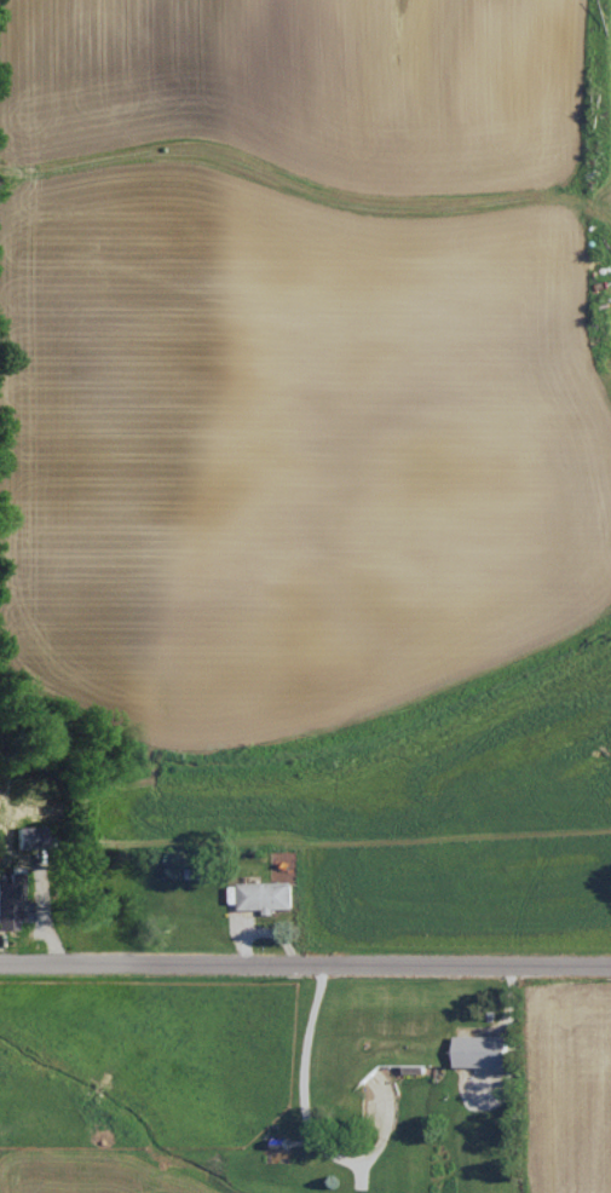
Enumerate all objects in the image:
building: (33, 836)
building: (269, 894)
road: (305, 963)
road: (513, 1030)
airport hangar: (482, 1054)
building: (482, 1054)
parking lot: (484, 1085)
road: (306, 1113)
airport: (488, 1114)
airport taxiway: (482, 1149)

